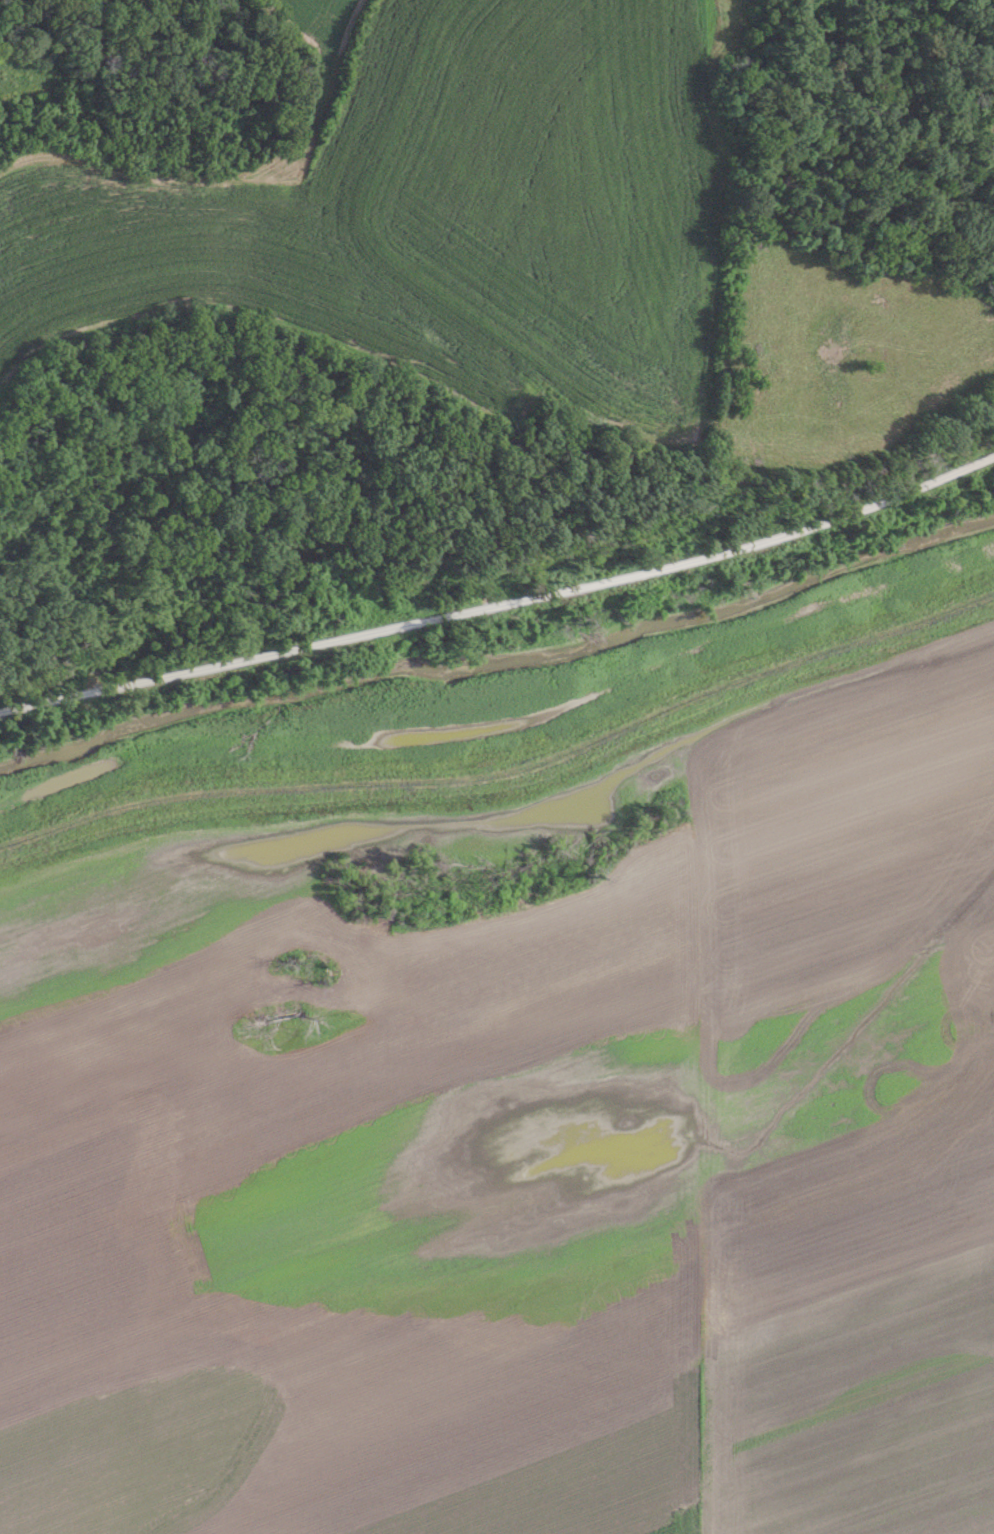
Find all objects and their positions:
road: (502, 603)

